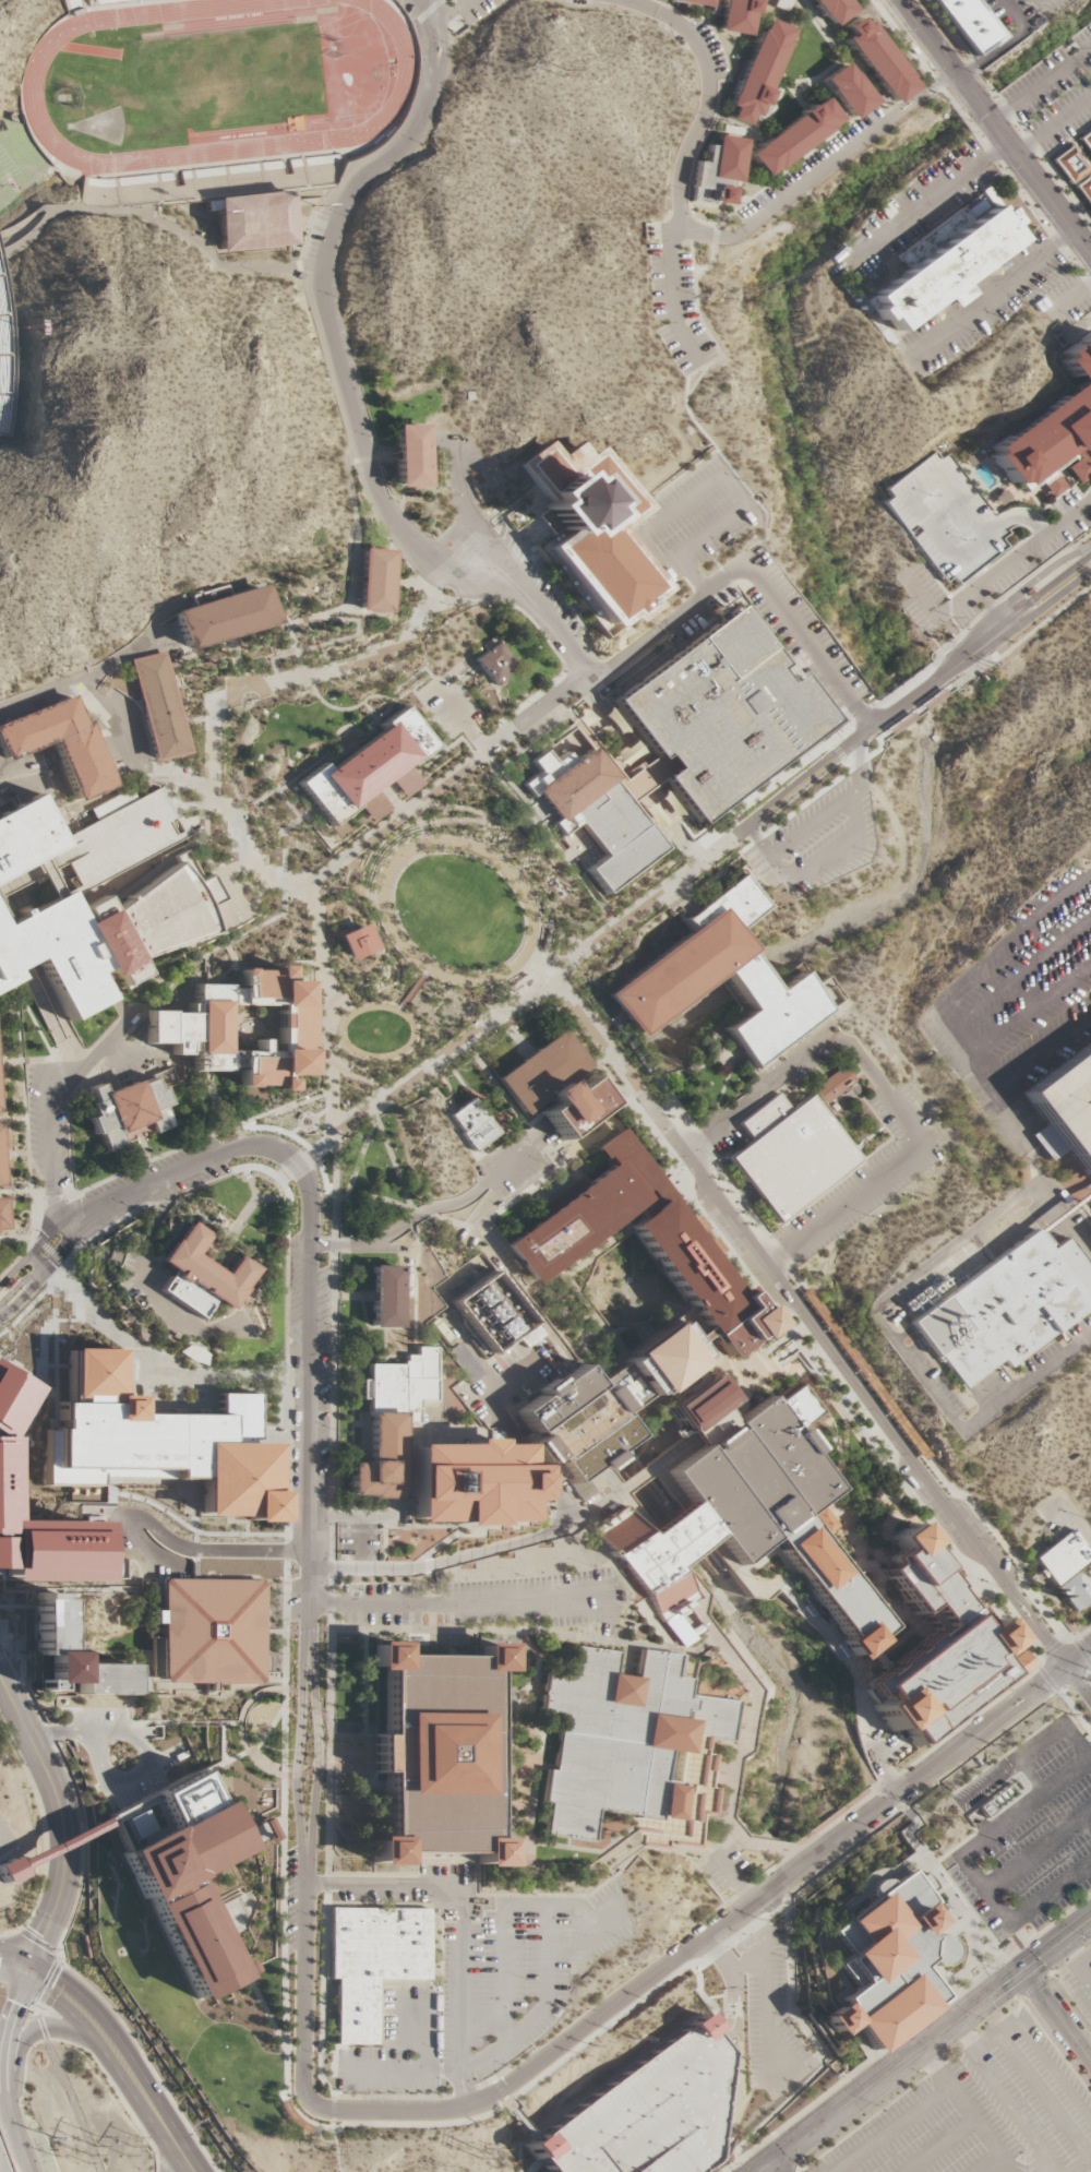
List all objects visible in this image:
building: (107, 2)
parking lot: (619, 2)
building: (694, 2)
road: (464, 3)
building: (70, 4)
road: (758, 4)
parking lot: (472, 9)
building: (832, 9)
road: (429, 11)
road: (675, 12)
road: (712, 12)
building: (736, 15)
park: (243, 20)
park: (341, 22)
building: (967, 22)
park: (244, 26)
road: (793, 38)
road: (928, 38)
road: (718, 43)
road: (1002, 43)
road: (839, 47)
park: (93, 50)
parking lot: (704, 50)
building: (878, 60)
railway: (928, 60)
park: (267, 61)
road: (1086, 65)
building: (758, 72)
power tower: (550, 75)
park: (357, 77)
track: (32, 86)
road: (1041, 86)
road: (806, 87)
park: (155, 88)
building: (849, 92)
road: (877, 94)
stadium: (214, 100)
road: (776, 104)
road: (767, 114)
park: (101, 126)
park: (263, 127)
road: (1053, 127)
building: (795, 136)
railway: (988, 136)
building: (1086, 141)
road: (694, 154)
road: (807, 154)
building: (1069, 165)
road: (1023, 166)
parking lot: (813, 168)
building: (719, 170)
road: (742, 172)
building: (207, 182)
building: (1084, 190)
road: (935, 200)
road: (154, 219)
building: (252, 222)
road: (719, 222)
road: (706, 236)
road: (28, 237)
power tower: (826, 263)
road: (304, 270)
building: (946, 270)
road: (320, 272)
road: (673, 291)
road: (997, 293)
road: (1074, 298)
power tower: (718, 299)
parking lot: (678, 308)
parking lot: (335, 317)
building: (3, 367)
stadium: (3, 367)
road: (695, 382)
road: (687, 408)
building: (1054, 434)
building: (410, 455)
power tower: (844, 468)
road: (724, 475)
road: (355, 514)
road: (467, 517)
parking lot: (945, 518)
parking lot: (688, 524)
building: (588, 528)
road: (448, 538)
parking lot: (491, 550)
road: (750, 569)
road: (325, 575)
building: (374, 580)
road: (352, 589)
road: (528, 593)
building: (1029, 593)
road: (1014, 596)
road: (650, 597)
road: (507, 605)
parking lot: (699, 607)
road: (1021, 607)
road: (334, 610)
building: (223, 616)
road: (1024, 619)
road: (584, 624)
road: (289, 628)
parking lot: (800, 631)
road: (257, 632)
road: (344, 637)
road: (292, 640)
road: (398, 645)
road: (295, 649)
road: (296, 653)
road: (187, 656)
road: (117, 660)
road: (171, 661)
road: (168, 663)
building: (497, 665)
road: (578, 666)
road: (299, 667)
road: (947, 669)
road: (428, 671)
road: (308, 687)
road: (915, 692)
road: (538, 693)
road: (37, 696)
parking lot: (449, 704)
road: (575, 704)
building: (158, 706)
road: (226, 709)
building: (720, 714)
road: (118, 716)
road: (196, 720)
road: (427, 721)
road: (372, 733)
road: (502, 735)
road: (447, 736)
road: (463, 739)
road: (185, 740)
building: (60, 744)
road: (502, 744)
road: (355, 749)
road: (519, 751)
road: (188, 760)
road: (604, 760)
road: (485, 763)
road: (211, 764)
building: (367, 766)
road: (188, 767)
road: (643, 771)
road: (813, 771)
road: (404, 780)
building: (405, 781)
road: (45, 784)
road: (769, 785)
road: (386, 791)
road: (513, 799)
road: (286, 800)
building: (372, 807)
road: (250, 808)
road: (415, 808)
road: (307, 812)
road: (482, 812)
road: (242, 813)
building: (594, 813)
road: (417, 814)
road: (639, 816)
road: (717, 820)
road: (436, 838)
road: (103, 839)
road: (425, 840)
parking lot: (816, 840)
road: (284, 843)
road: (484, 854)
road: (284, 863)
road: (350, 875)
road: (316, 876)
road: (47, 878)
building: (93, 900)
road: (379, 900)
road: (319, 902)
road: (642, 906)
road: (322, 908)
road: (552, 924)
road: (334, 931)
park: (442, 932)
road: (371, 938)
building: (356, 942)
road: (223, 945)
road: (532, 969)
building: (678, 971)
road: (427, 972)
parking lot: (1032, 976)
road: (537, 984)
road: (412, 991)
road: (339, 999)
road: (376, 1004)
road: (400, 1009)
road: (47, 1013)
building: (46, 1015)
road: (34, 1021)
building: (187, 1028)
road: (322, 1034)
road: (20, 1042)
road: (403, 1050)
road: (455, 1055)
road: (119, 1061)
road: (722, 1061)
road: (350, 1075)
road: (63, 1078)
road: (657, 1078)
road: (190, 1082)
road: (338, 1084)
building: (832, 1084)
building: (553, 1086)
road: (372, 1087)
road: (2, 1088)
road: (76, 1089)
road: (885, 1089)
road: (375, 1096)
road: (46, 1101)
road: (24, 1103)
building: (1068, 1106)
parking garage: (1068, 1106)
building: (130, 1108)
road: (373, 1111)
road: (350, 1118)
road: (12, 1119)
building: (471, 1124)
road: (5, 1137)
road: (195, 1142)
road: (302, 1143)
building: (789, 1154)
road: (359, 1158)
road: (393, 1163)
parking lot: (512, 1163)
road: (11, 1167)
road: (179, 1172)
building: (0, 1181)
road: (15, 1192)
road: (31, 1194)
road: (68, 1196)
road: (51, 1197)
road: (255, 1197)
road: (375, 1197)
road: (73, 1198)
road: (268, 1200)
road: (156, 1204)
road: (441, 1206)
road: (423, 1213)
building: (1, 1217)
road: (32, 1217)
road: (51, 1217)
road: (702, 1217)
road: (410, 1220)
road: (142, 1221)
road: (75, 1222)
road: (137, 1226)
road: (411, 1229)
road: (134, 1230)
road: (231, 1231)
road: (34, 1234)
road: (230, 1237)
building: (642, 1242)
road: (52, 1245)
road: (592, 1245)
road: (379, 1246)
road: (287, 1250)
road: (77, 1251)
road: (31, 1252)
road: (74, 1254)
road: (56, 1256)
road: (17, 1257)
road: (37, 1261)
road: (225, 1276)
building: (200, 1277)
road: (523, 1279)
road: (65, 1280)
building: (9, 1285)
road: (39, 1289)
road: (14, 1290)
road: (146, 1291)
building: (387, 1296)
road: (247, 1298)
road: (20, 1299)
road: (118, 1303)
road: (149, 1308)
building: (1005, 1309)
road: (591, 1313)
building: (493, 1315)
road: (136, 1316)
road: (245, 1321)
road: (172, 1328)
road: (143, 1353)
road: (473, 1353)
road: (307, 1354)
road: (392, 1358)
building: (663, 1358)
building: (465, 1363)
road: (310, 1371)
road: (276, 1394)
building: (10, 1396)
road: (29, 1398)
road: (655, 1399)
road: (867, 1400)
building: (696, 1404)
building: (389, 1423)
building: (573, 1430)
road: (836, 1442)
building: (158, 1444)
road: (287, 1461)
road: (862, 1473)
road: (639, 1479)
building: (468, 1484)
road: (682, 1501)
road: (152, 1503)
road: (911, 1503)
road: (600, 1506)
building: (750, 1519)
road: (646, 1527)
road: (888, 1530)
road: (548, 1533)
building: (47, 1548)
road: (197, 1549)
road: (688, 1549)
building: (1067, 1570)
road: (430, 1575)
parking lot: (487, 1602)
road: (307, 1603)
road: (459, 1603)
road: (907, 1619)
road: (820, 1628)
road: (478, 1631)
building: (212, 1632)
road: (331, 1635)
road: (702, 1646)
building: (938, 1649)
building: (73, 1659)
road: (1080, 1659)
road: (1080, 1682)
road: (255, 1698)
road: (313, 1702)
road: (86, 1710)
road: (751, 1715)
road: (201, 1725)
parking lot: (95, 1726)
road: (112, 1734)
building: (622, 1740)
road: (516, 1751)
building: (437, 1753)
road: (296, 1758)
road: (316, 1758)
road: (220, 1766)
road: (310, 1769)
road: (108, 1782)
road: (871, 1795)
road: (891, 1800)
road: (132, 1809)
road: (907, 1810)
power tower: (936, 1811)
road: (62, 1822)
road: (911, 1828)
parking lot: (1024, 1830)
road: (874, 1831)
parking lot: (5, 1838)
road: (3, 1839)
road: (61, 1843)
road: (47, 1848)
road: (923, 1857)
road: (284, 1859)
building: (7, 1871)
building: (181, 1874)
road: (706, 1877)
road: (736, 1881)
road: (384, 1886)
road: (68, 1923)
road: (1043, 1930)
road: (9, 1933)
road: (704, 1941)
road: (504, 1950)
road: (720, 1955)
road: (13, 1960)
building: (372, 1964)
building: (883, 1964)
road: (1078, 1968)
road: (13, 1970)
traffic signals: (27, 1970)
traffic signals: (1026, 1970)
road: (1055, 1972)
road: (464, 1977)
road: (733, 1979)
parking lot: (1079, 1980)
road: (303, 1981)
road: (1006, 1983)
road: (765, 1991)
road: (52, 1992)
road: (1072, 2000)
road: (730, 2008)
road: (739, 2008)
road: (541, 2010)
road: (1057, 2014)
road: (7, 2028)
road: (40, 2028)
road: (41, 2028)
road: (276, 2033)
road: (810, 2034)
road: (727, 2036)
power tower: (633, 2037)
road: (928, 2043)
road: (983, 2049)
road: (121, 2061)
road: (556, 2064)
road: (865, 2064)
road: (935, 2067)
road: (1054, 2070)
road: (416, 2073)
road: (110, 2085)
road: (500, 2090)
parking lot: (1032, 2095)
road: (415, 2097)
road: (935, 2097)
road: (1044, 2100)
road: (19, 2102)
road: (70, 2107)
road: (1010, 2111)
road: (516, 2113)
building: (649, 2113)
parking garage: (649, 2113)
road: (13, 2131)
road: (530, 2132)
parking lot: (931, 2133)
power tower: (131, 2146)
road: (942, 2146)
power tower: (96, 2148)
power tower: (480, 2149)
power tower: (329, 2150)
road: (1080, 2163)
road: (164, 2164)
traffic signals: (766, 2164)
power tower: (440, 2165)
road: (537, 2167)
road: (729, 2167)
road: (740, 2167)
power tower: (332, 2168)
road: (760, 2168)
road: (768, 2168)
road: (185, 2169)
road: (0, 2170)

